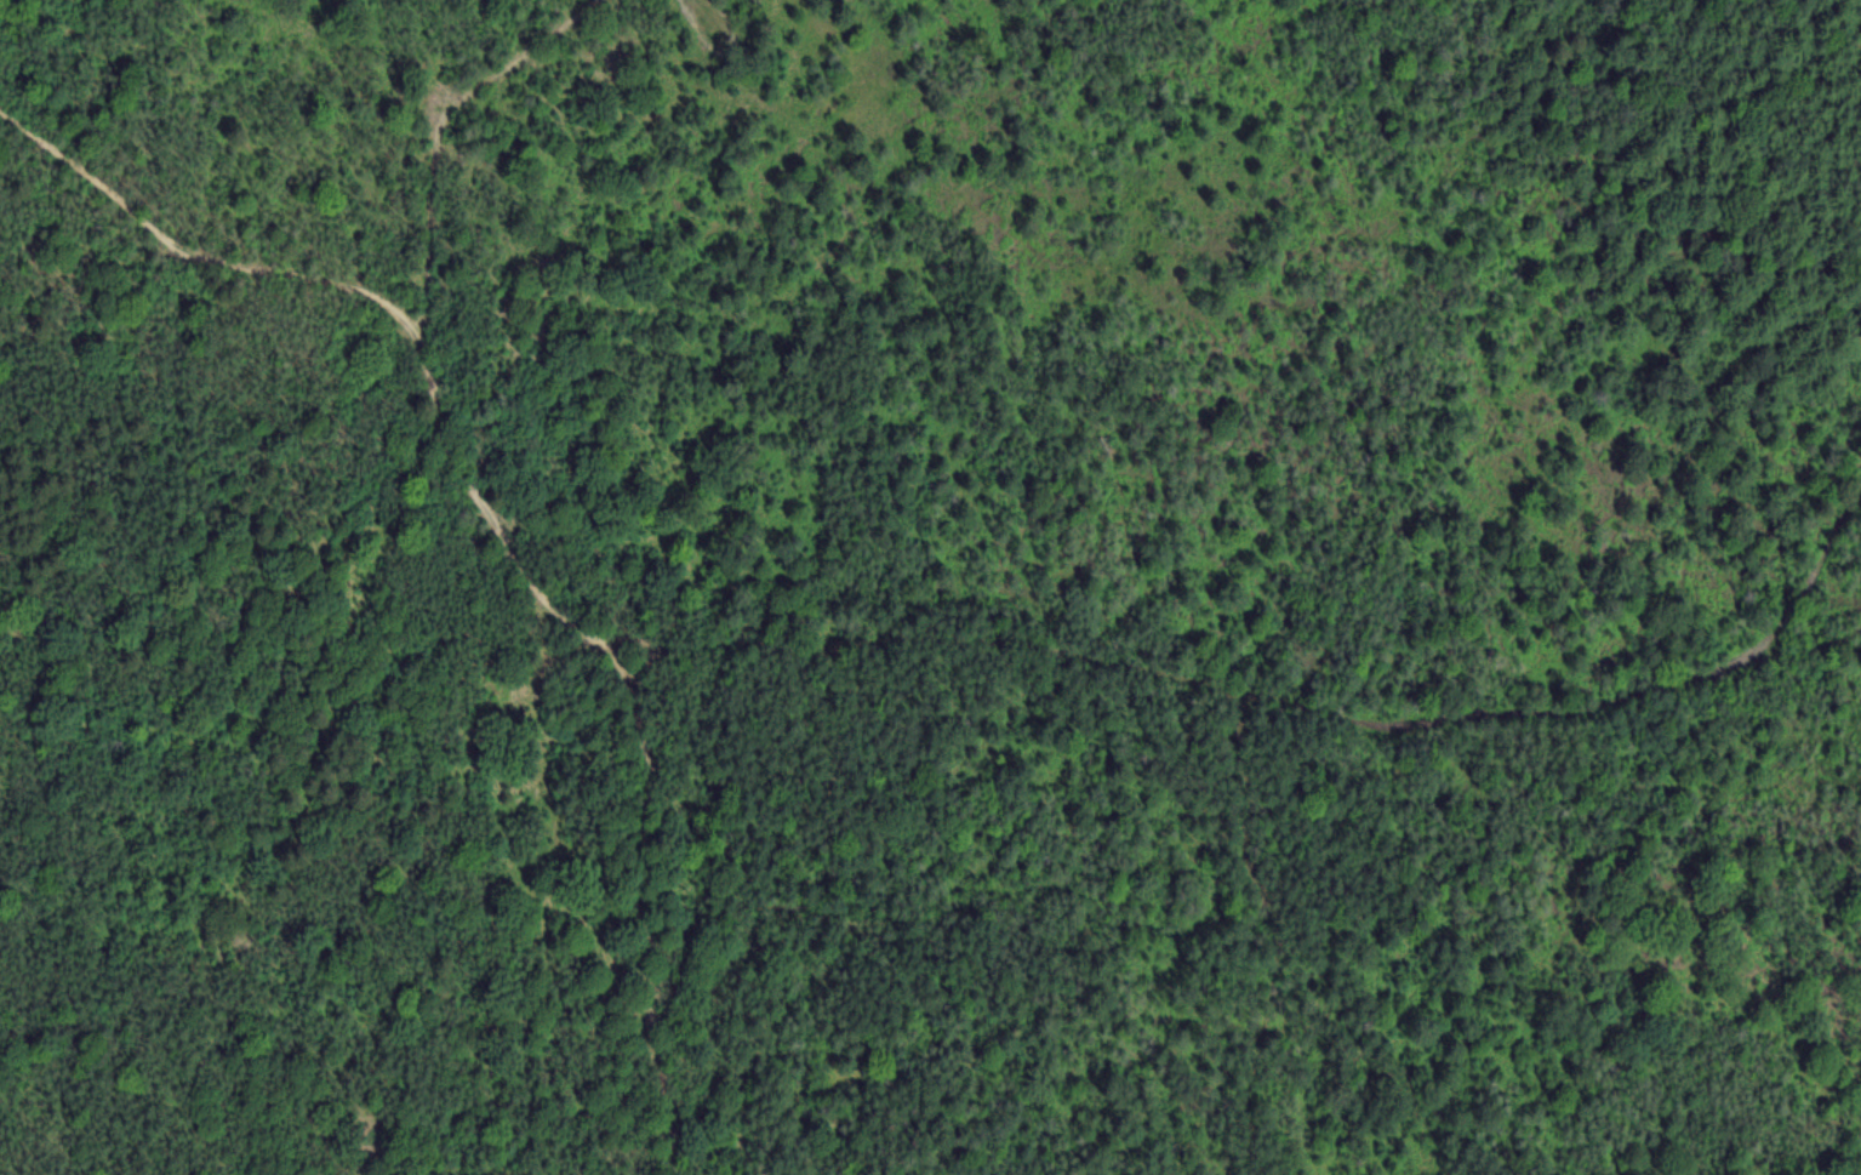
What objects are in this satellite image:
road: (394, 308)
road: (650, 928)

